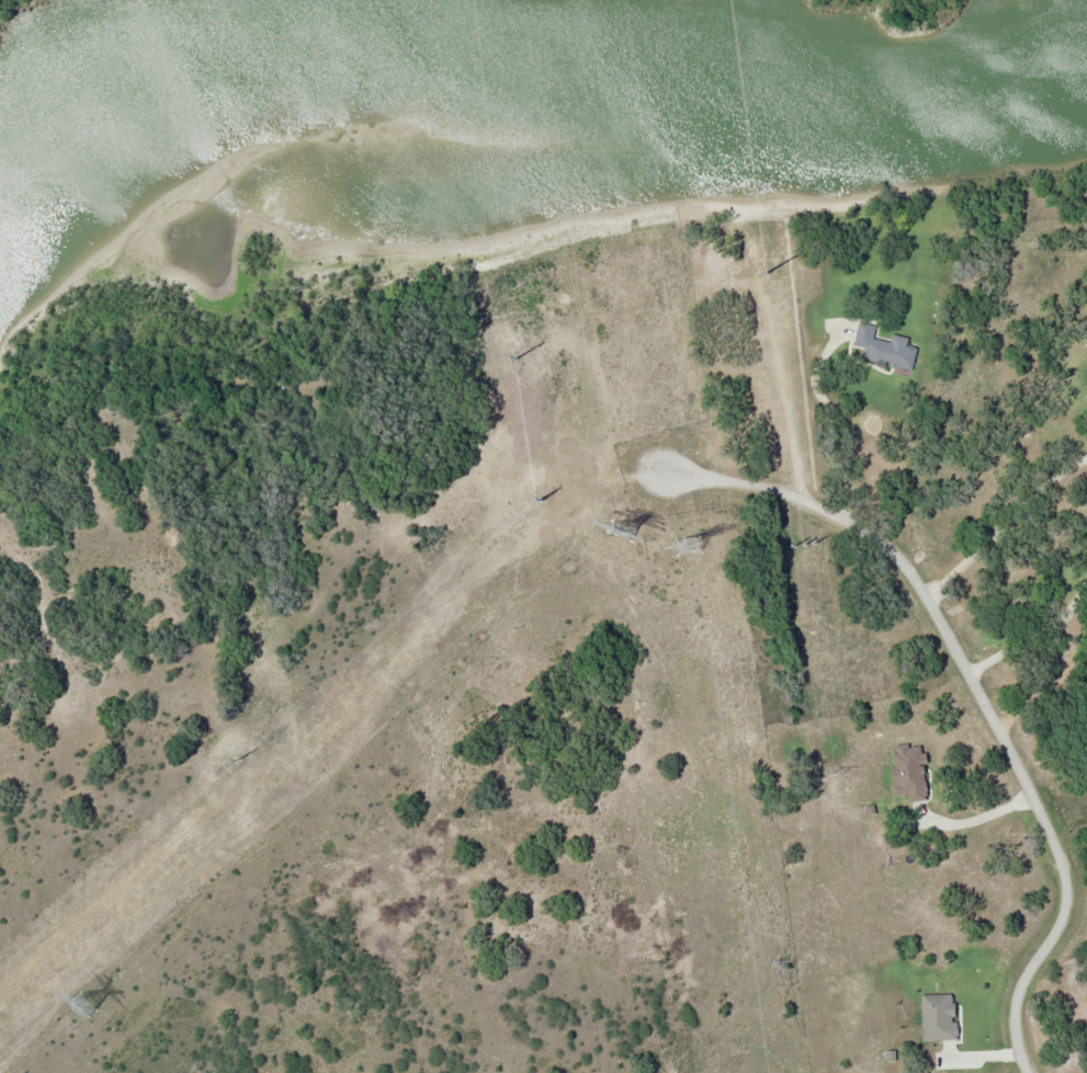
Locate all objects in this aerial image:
power plant: (845, 5)
power plant: (11, 18)
power tower: (767, 254)
building: (884, 349)
building: (1086, 392)
power tower: (623, 533)
power tower: (687, 547)
road: (977, 700)
power tower: (835, 773)
power tower: (81, 1004)

